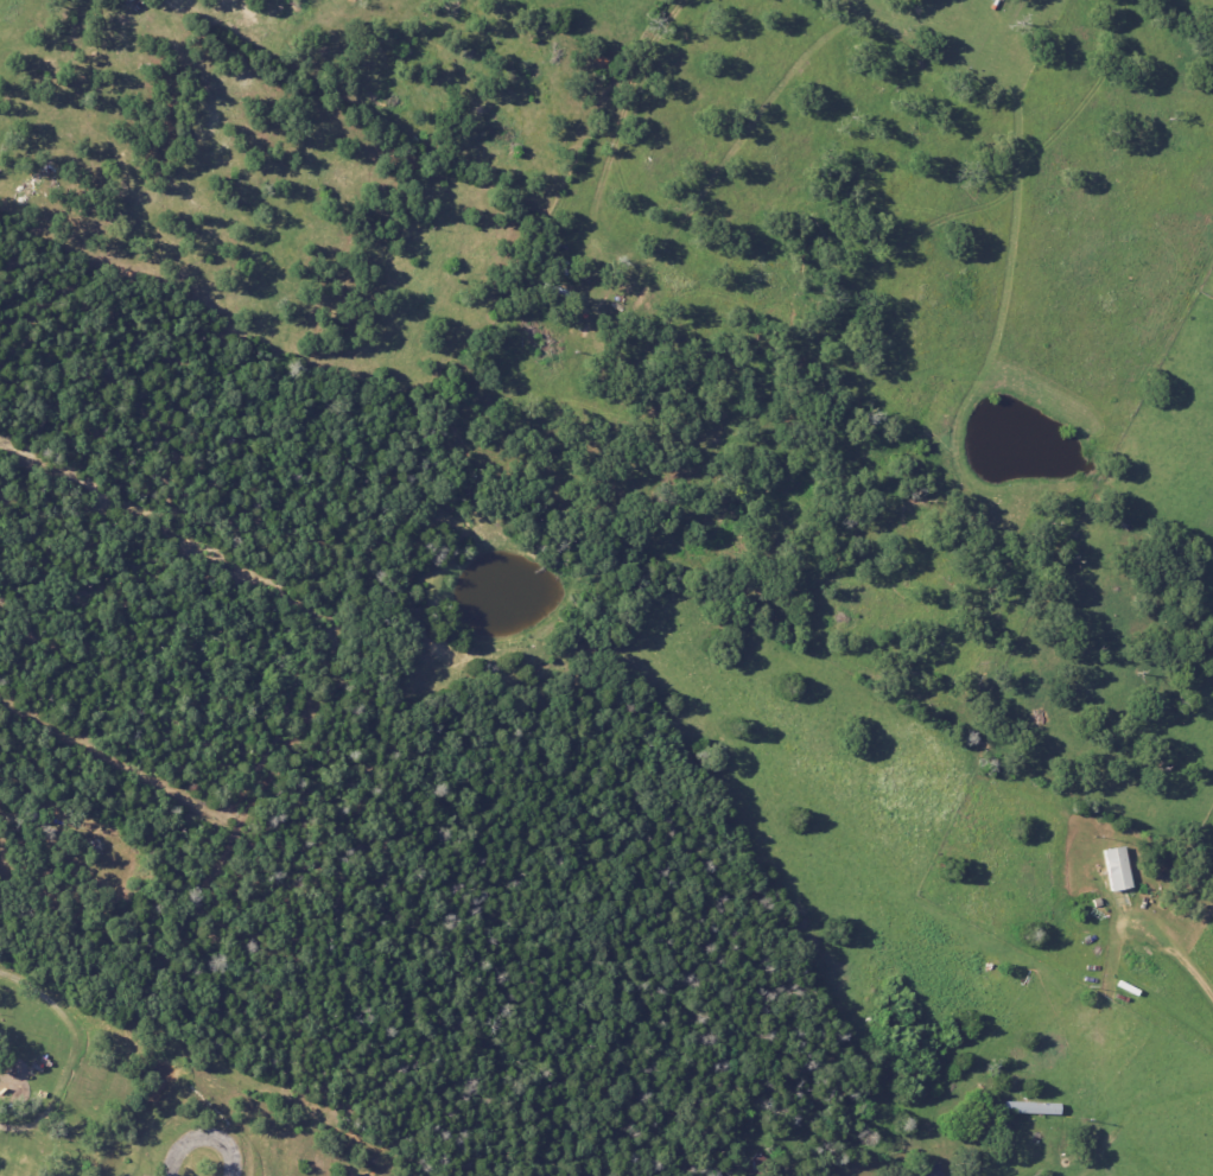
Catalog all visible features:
road: (1, 825)
building: (1114, 867)
road: (1186, 965)
building: (1030, 1107)
road: (203, 1138)
building: (932, 1170)

